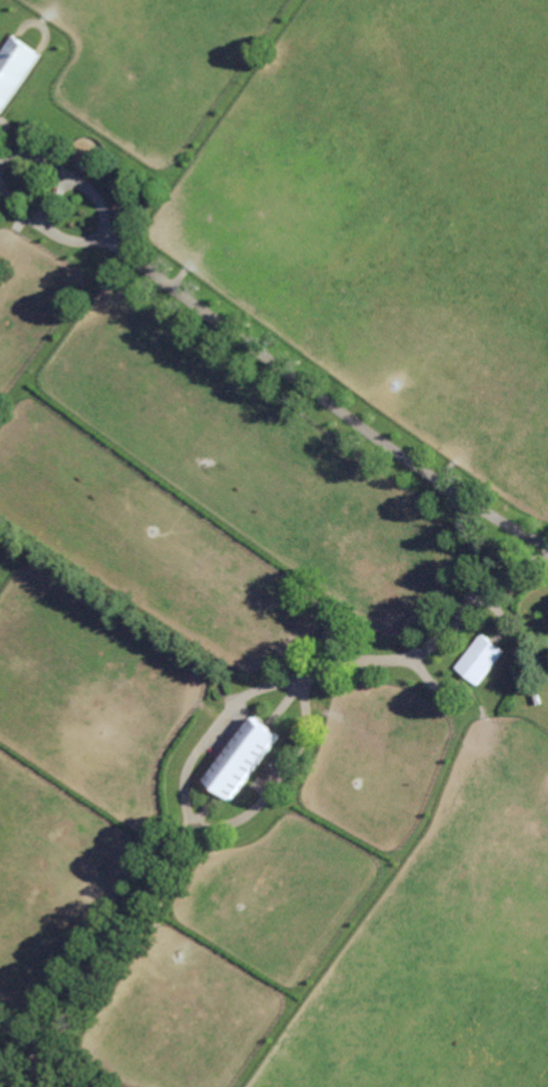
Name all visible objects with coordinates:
building: (14, 67)
road: (70, 174)
road: (53, 197)
road: (272, 359)
building: (479, 657)
building: (536, 699)
road: (203, 747)
building: (244, 759)
road: (280, 776)
road: (34, 1067)
road: (76, 1067)

